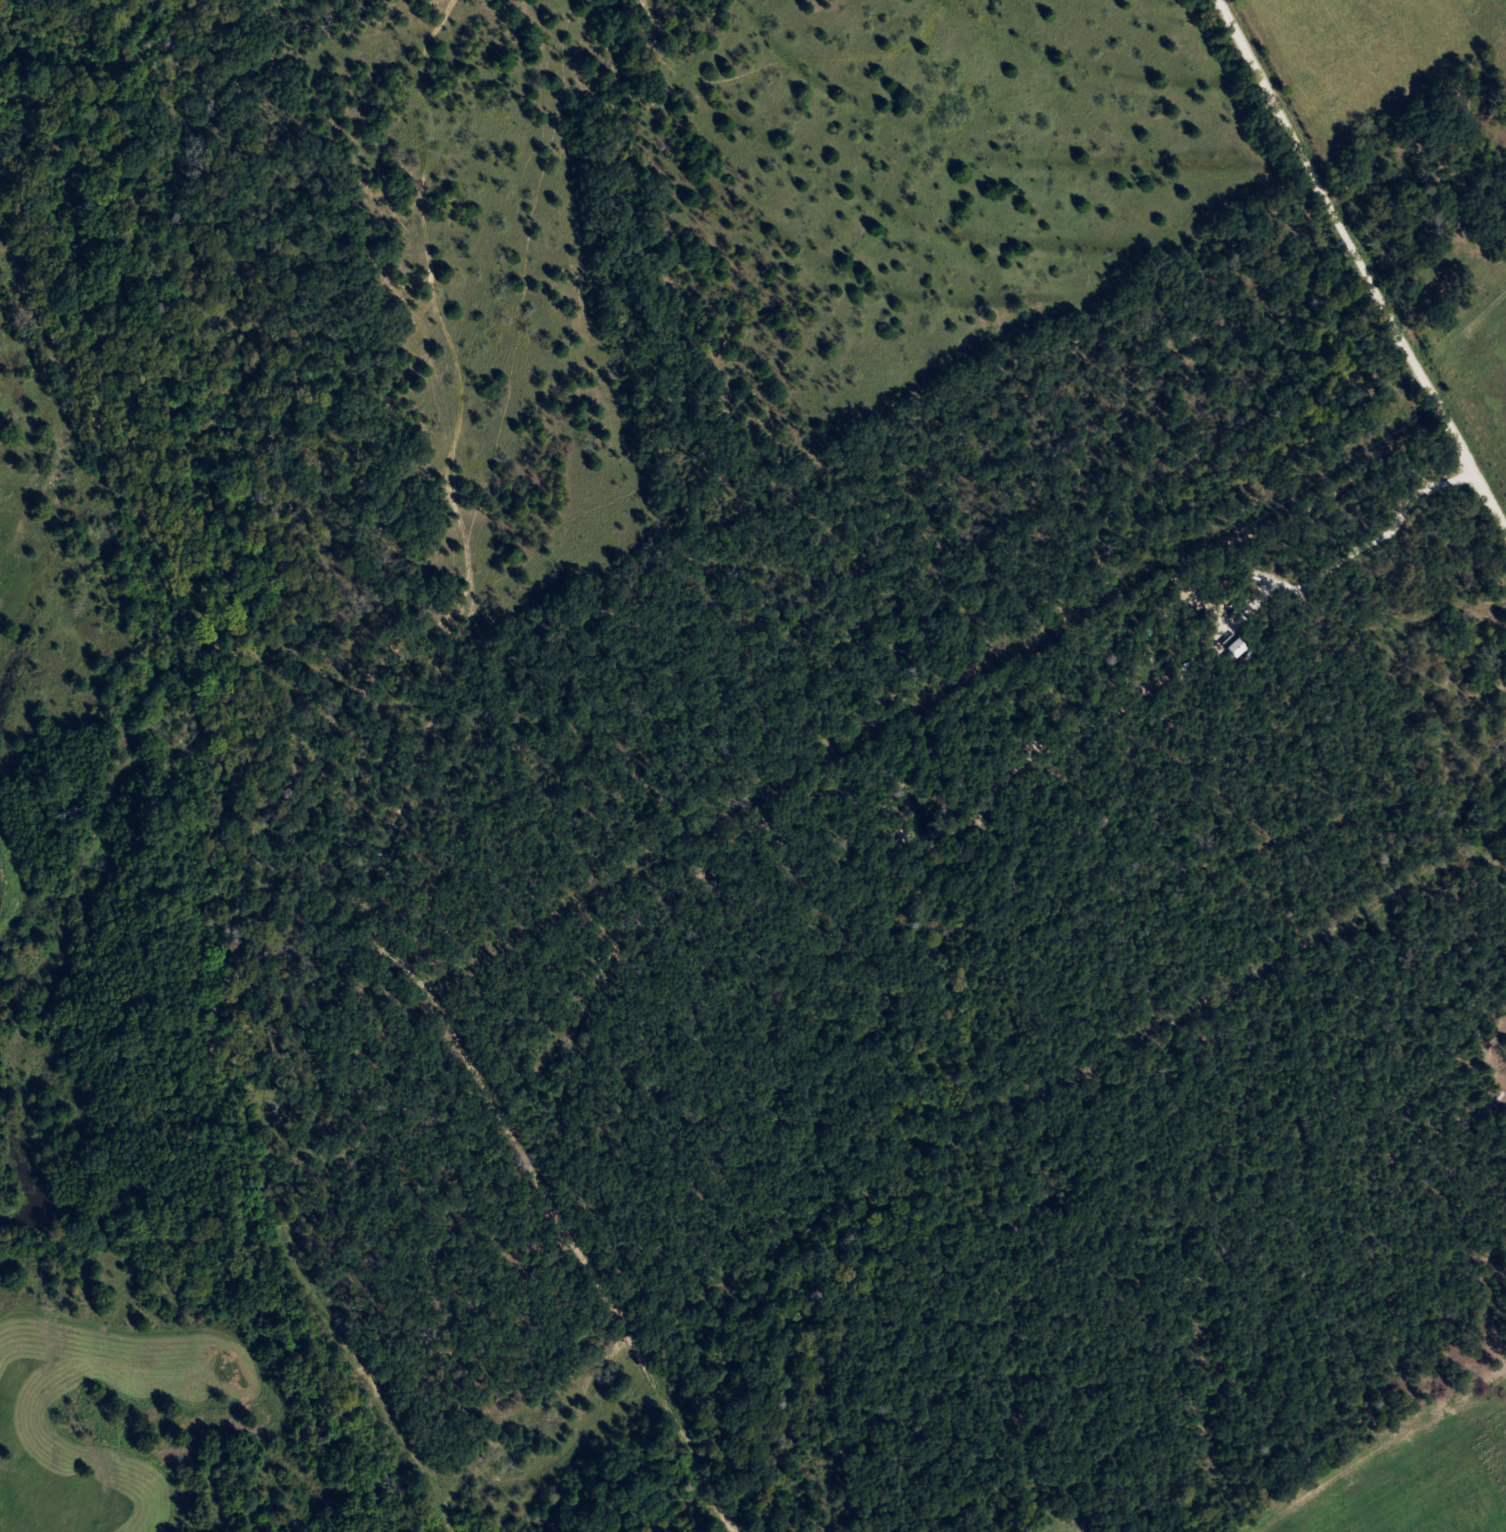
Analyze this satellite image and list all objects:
road: (1364, 260)

